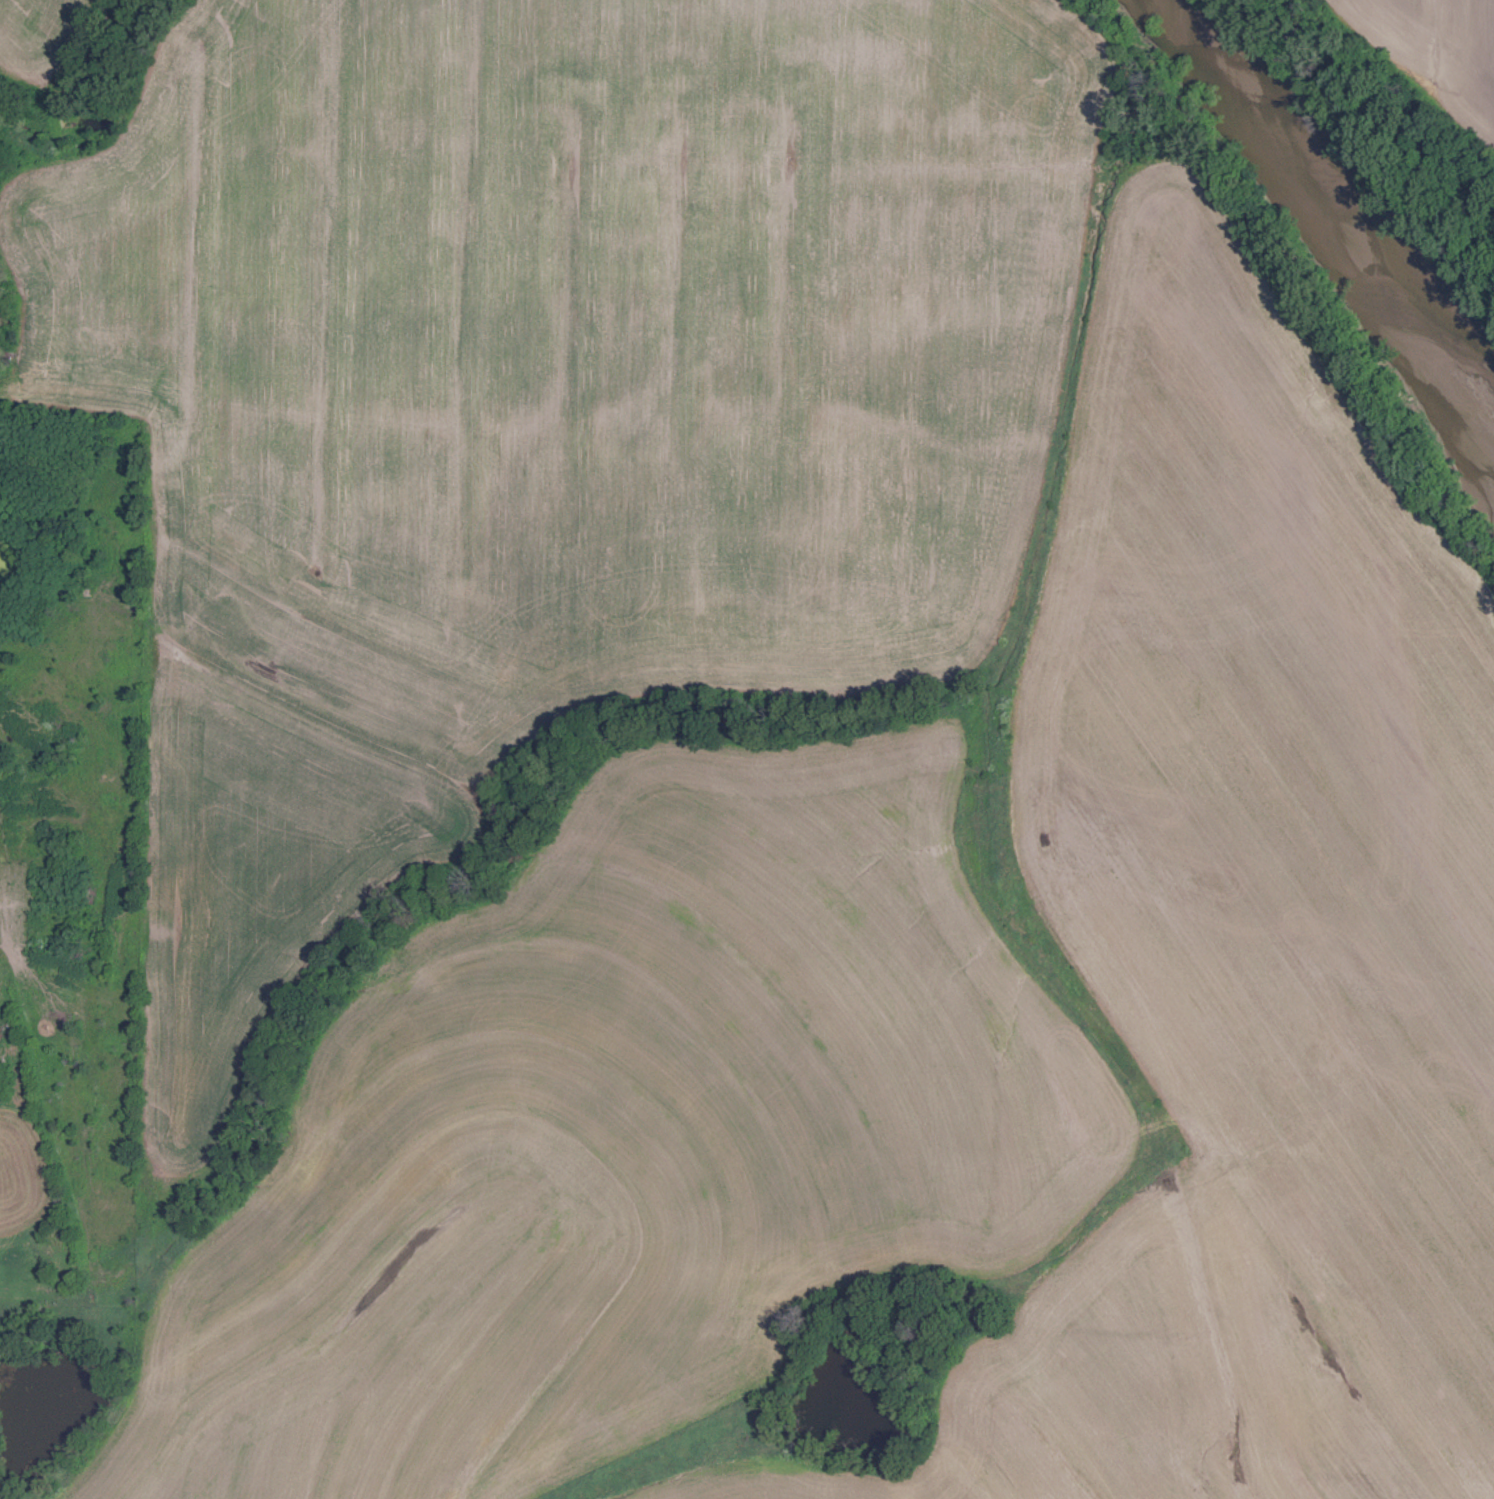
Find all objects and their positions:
river: (1345, 224)

